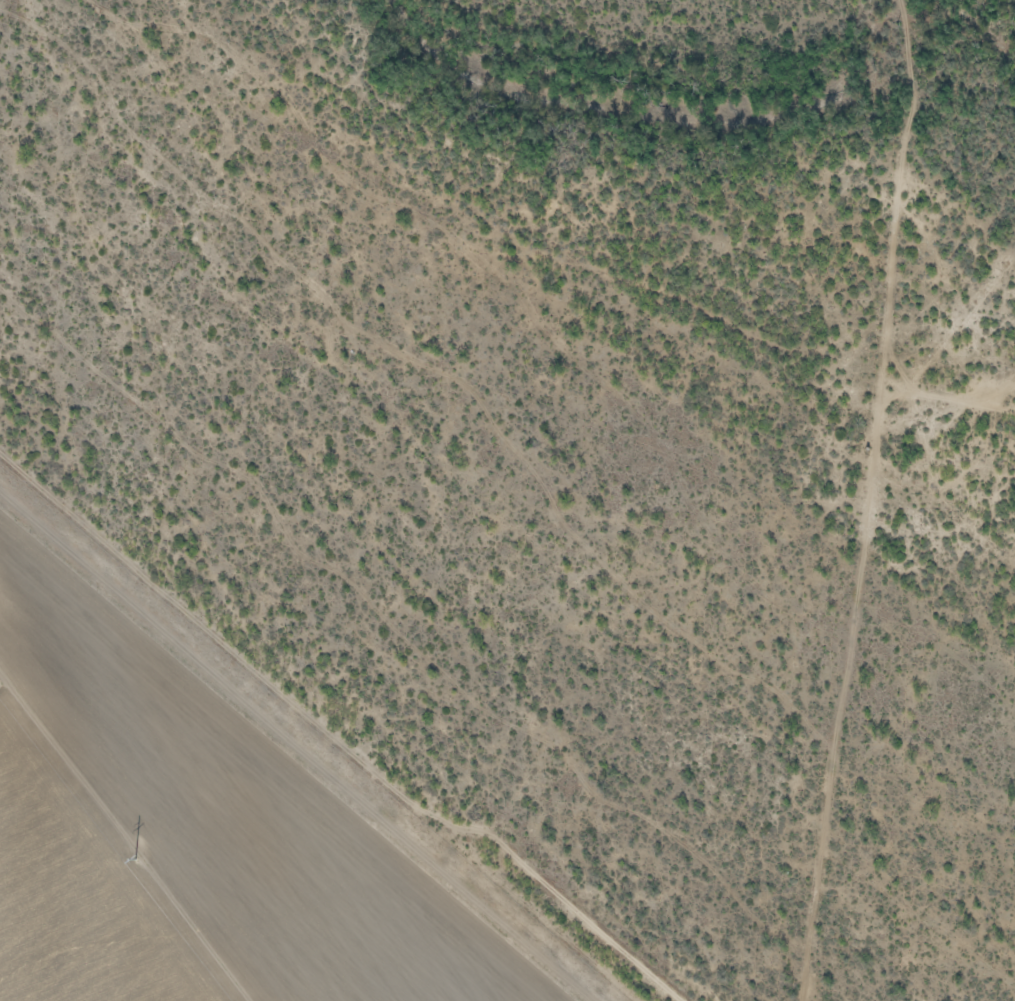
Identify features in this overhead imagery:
road: (905, 207)
road: (538, 254)
power tower: (127, 850)

